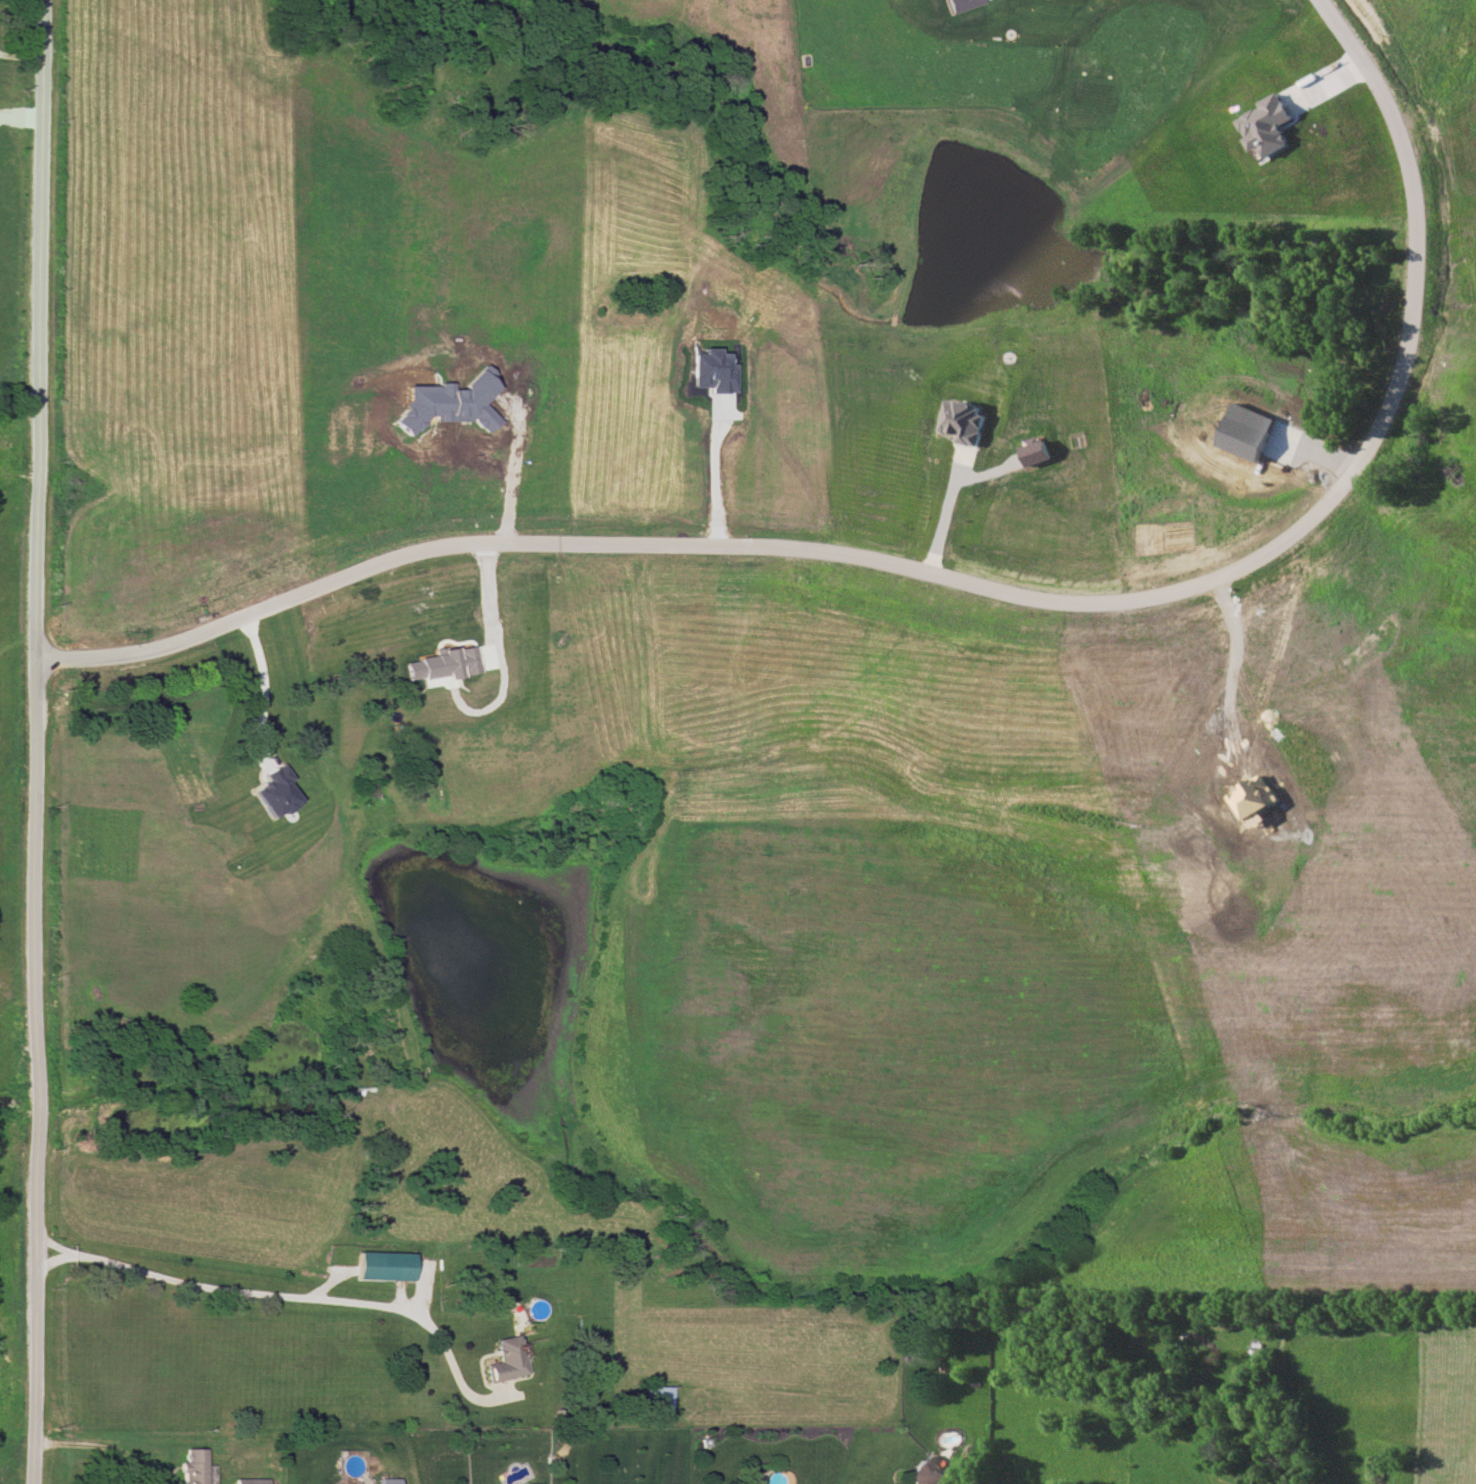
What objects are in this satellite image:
building: (955, 4)
building: (1271, 125)
building: (965, 421)
road: (512, 479)
road: (707, 482)
road: (946, 524)
road: (963, 584)
road: (489, 605)
building: (444, 663)
road: (263, 689)
road: (34, 742)
road: (49, 1247)
road: (47, 1263)
building: (381, 1266)
road: (286, 1301)
building: (502, 1360)
road: (100, 1448)
building: (189, 1466)
building: (925, 1472)
building: (248, 1481)
building: (386, 1481)
building: (526, 1483)

